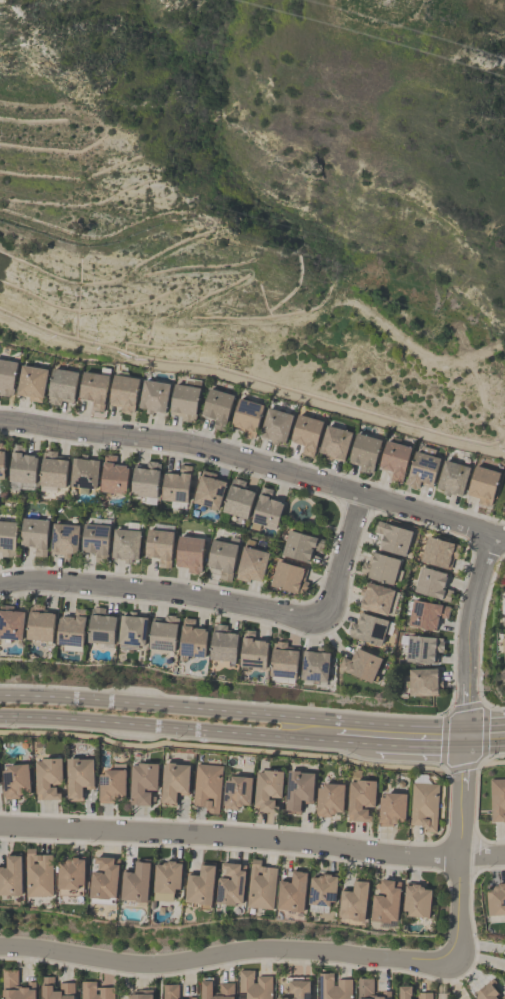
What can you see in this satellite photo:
building: (6, 375)
road: (253, 377)
building: (31, 381)
building: (61, 384)
building: (93, 388)
building: (122, 391)
building: (153, 395)
building: (184, 398)
building: (217, 405)
building: (246, 415)
building: (274, 424)
building: (305, 432)
building: (334, 441)
building: (363, 451)
building: (394, 458)
building: (1, 459)
road: (256, 462)
building: (21, 464)
building: (422, 466)
building: (52, 469)
building: (83, 471)
building: (112, 475)
building: (451, 477)
building: (145, 480)
building: (175, 483)
building: (482, 484)
building: (208, 489)
building: (237, 498)
building: (504, 502)
building: (265, 509)
building: (504, 510)
building: (34, 534)
building: (392, 536)
building: (7, 537)
building: (63, 538)
building: (95, 539)
building: (125, 544)
building: (300, 544)
building: (159, 545)
building: (438, 551)
building: (189, 552)
road: (343, 552)
building: (221, 557)
building: (251, 563)
building: (380, 566)
building: (288, 576)
building: (432, 582)
road: (161, 594)
building: (376, 597)
building: (425, 613)
building: (504, 617)
building: (10, 622)
building: (39, 622)
building: (100, 625)
building: (71, 627)
building: (367, 627)
building: (132, 628)
road: (474, 630)
building: (162, 632)
building: (192, 638)
building: (222, 642)
building: (504, 647)
building: (422, 648)
building: (252, 650)
building: (283, 659)
building: (314, 663)
building: (361, 663)
building: (504, 678)
building: (423, 681)
road: (213, 711)
road: (484, 725)
road: (445, 726)
road: (166, 730)
road: (464, 738)
road: (353, 744)
road: (419, 747)
road: (484, 748)
building: (78, 775)
building: (47, 777)
building: (14, 779)
building: (173, 780)
building: (142, 781)
building: (110, 784)
building: (207, 786)
building: (267, 788)
building: (298, 789)
building: (236, 791)
building: (359, 796)
building: (329, 798)
building: (497, 799)
building: (423, 805)
building: (391, 808)
road: (252, 838)
road: (456, 854)
building: (70, 872)
building: (38, 873)
building: (10, 875)
building: (104, 877)
building: (166, 879)
building: (136, 881)
building: (231, 883)
building: (200, 885)
building: (261, 885)
building: (322, 889)
building: (293, 891)
building: (353, 899)
building: (416, 899)
building: (386, 900)
building: (496, 902)
road: (481, 939)
road: (226, 953)
road: (441, 979)
building: (254, 985)
building: (15, 986)
building: (334, 987)
building: (227, 988)
building: (55, 989)
building: (298, 989)
building: (369, 989)
building: (486, 990)
building: (96, 991)
building: (170, 991)
building: (404, 991)
building: (140, 994)
building: (424, 995)
building: (503, 996)
building: (188, 997)

